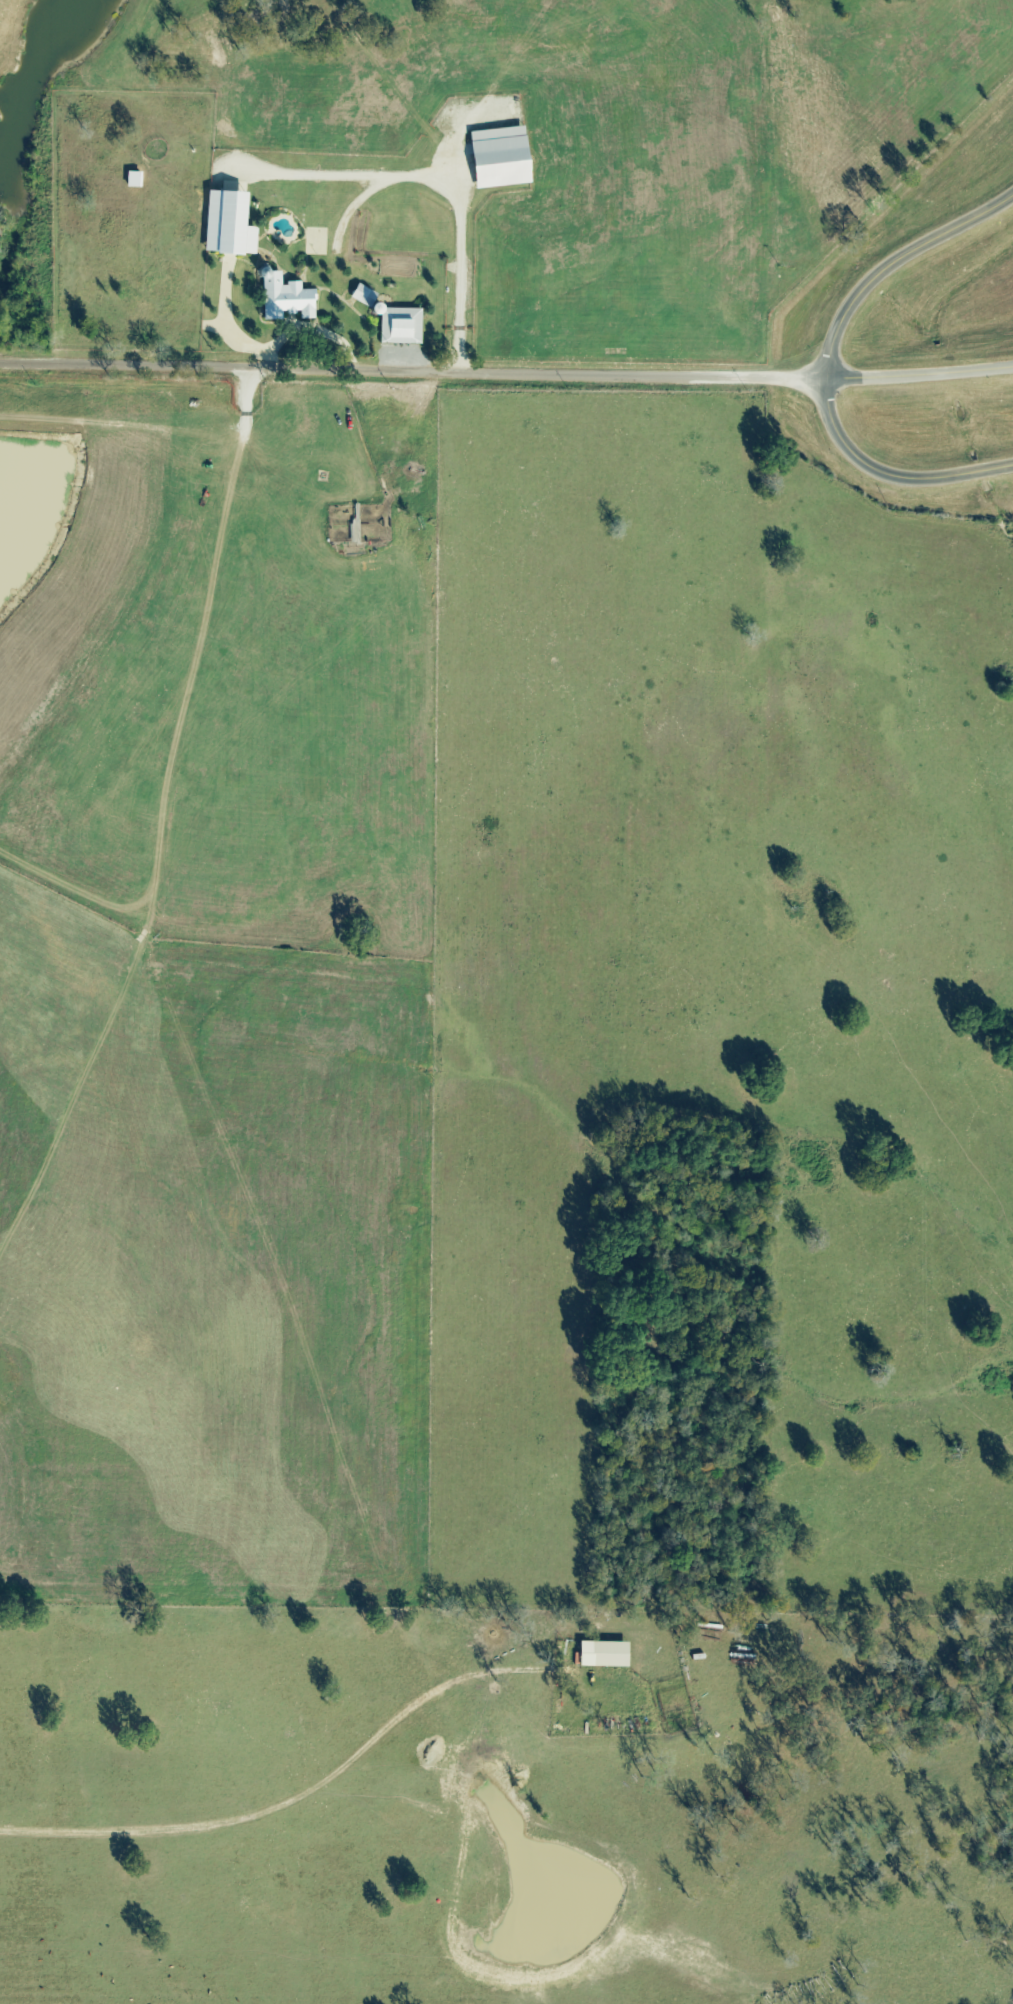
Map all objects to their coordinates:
building: (497, 158)
building: (226, 225)
road: (892, 263)
building: (363, 296)
building: (285, 298)
building: (400, 326)
road: (506, 373)
road: (887, 476)
building: (607, 1648)

